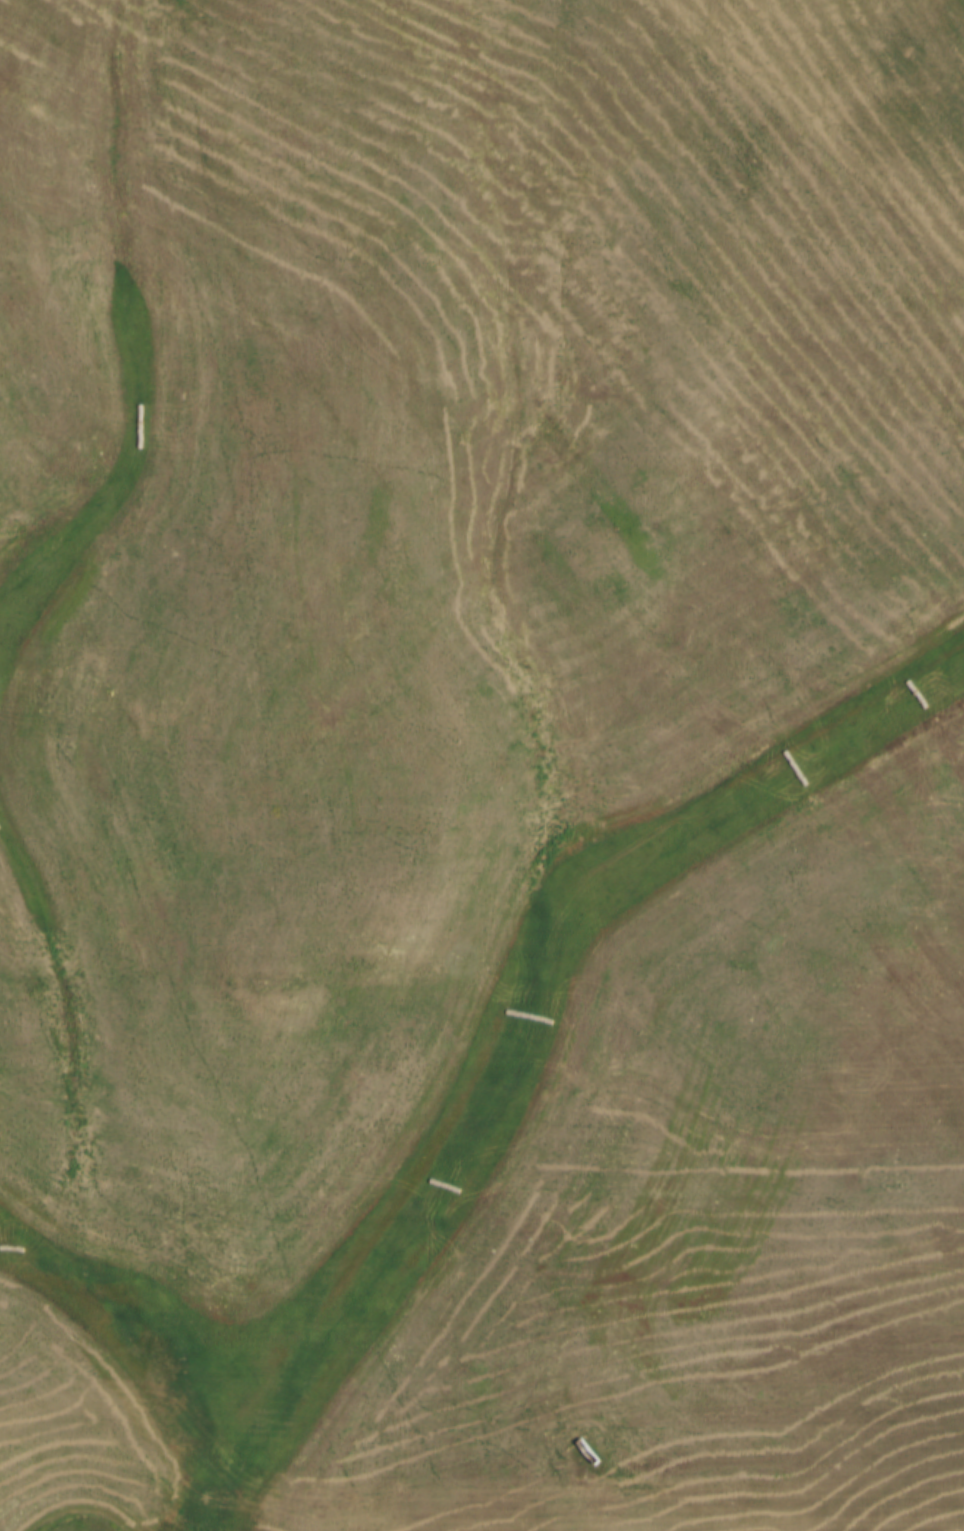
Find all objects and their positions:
building: (579, 1448)

